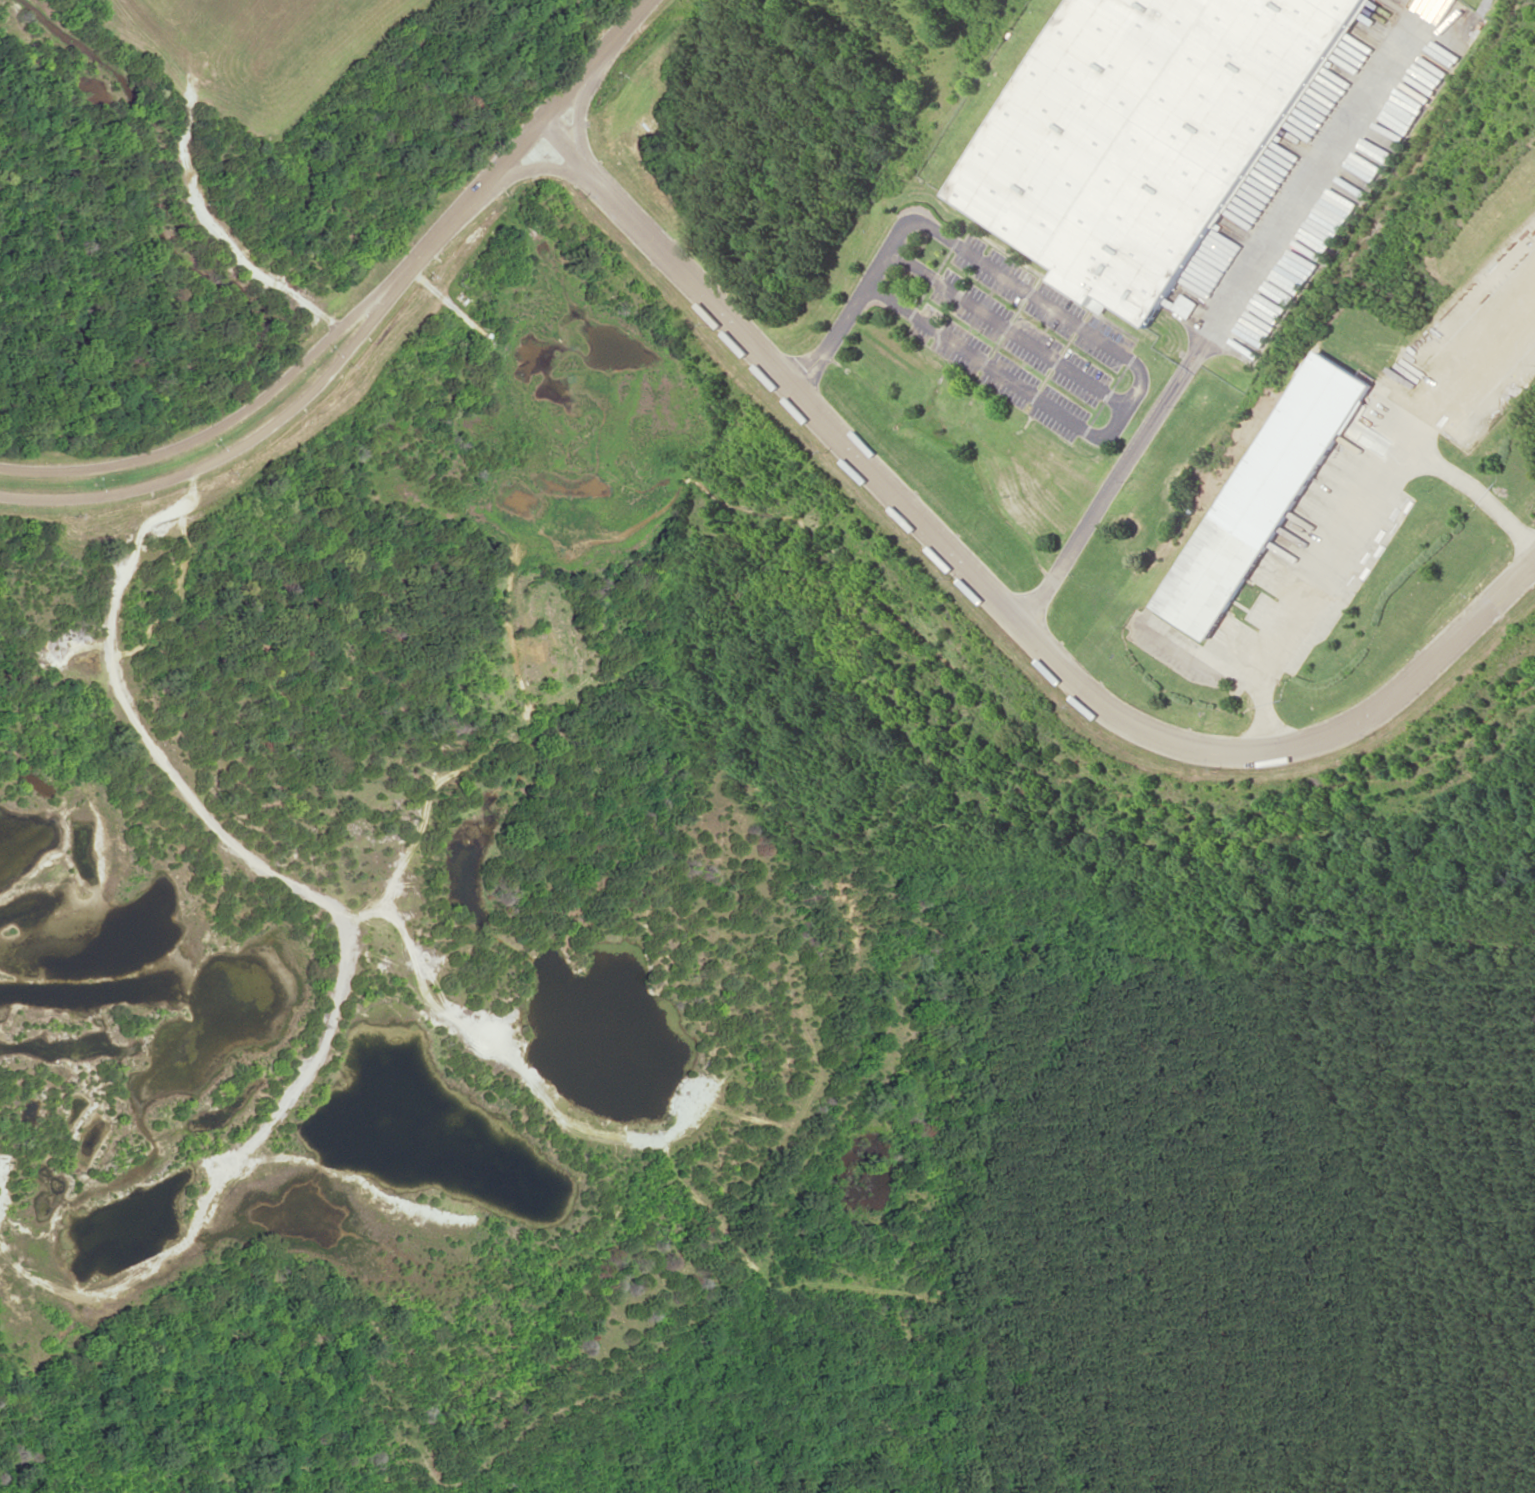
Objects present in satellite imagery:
building: (1147, 131)
road: (527, 134)
building: (1191, 305)
road: (226, 416)
road: (237, 443)
building: (1269, 490)
road: (996, 597)

